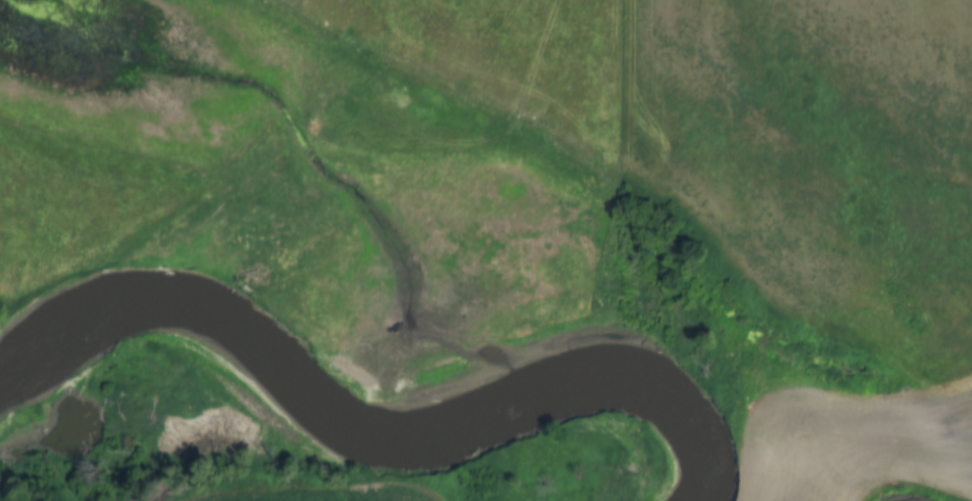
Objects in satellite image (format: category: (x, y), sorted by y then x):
river: (369, 427)

